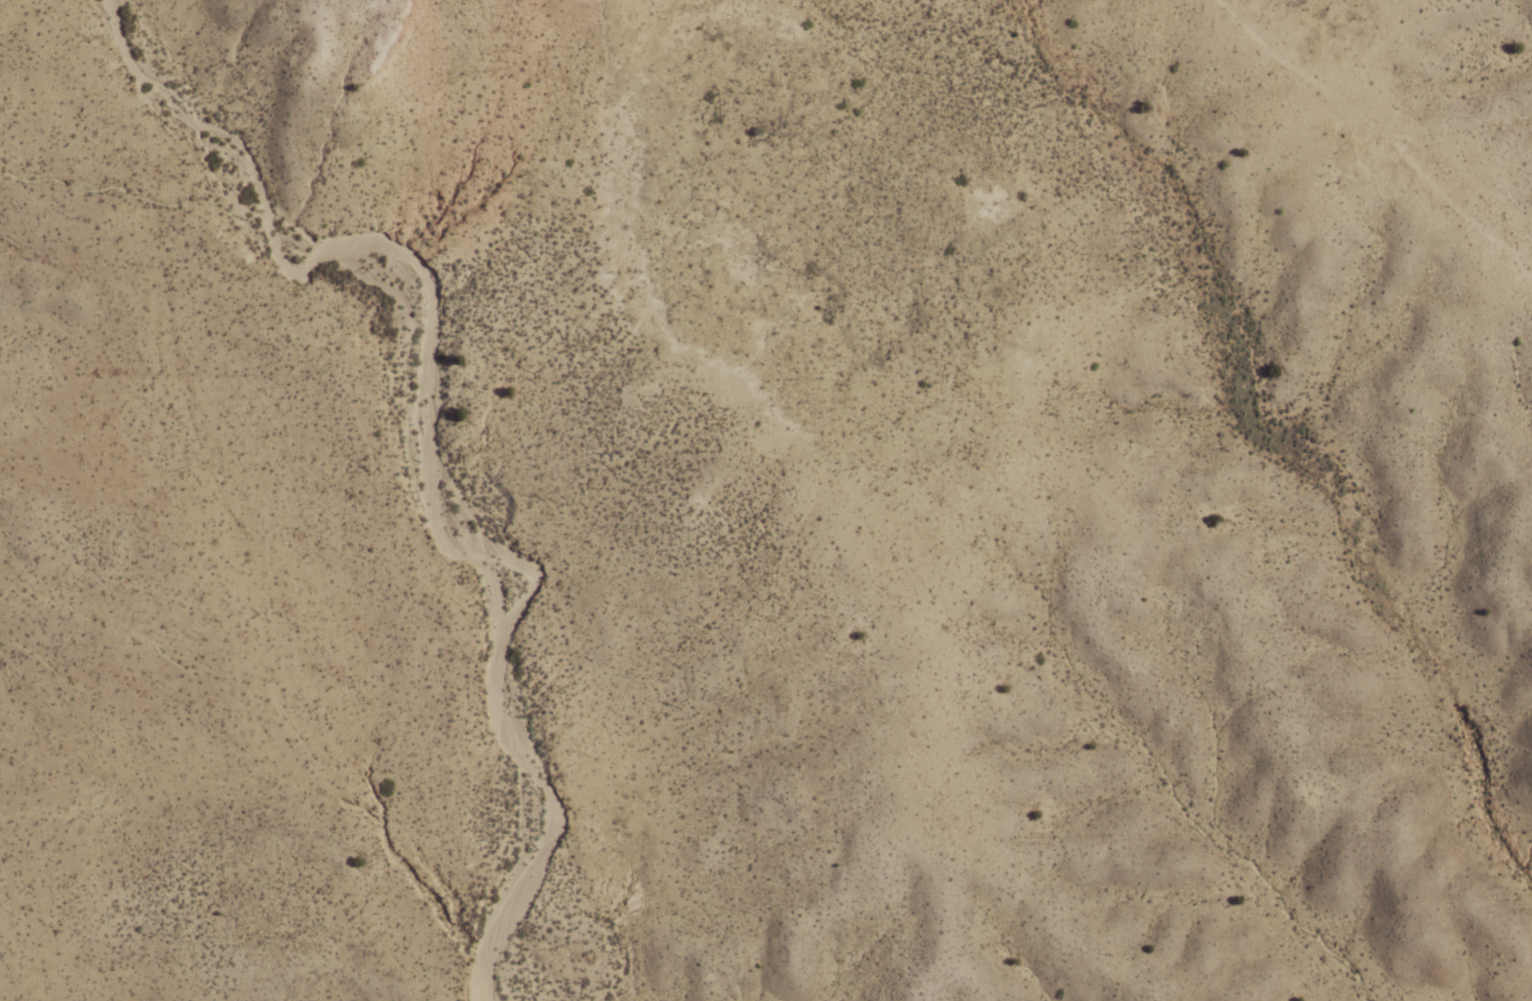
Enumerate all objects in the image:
road: (1377, 131)

